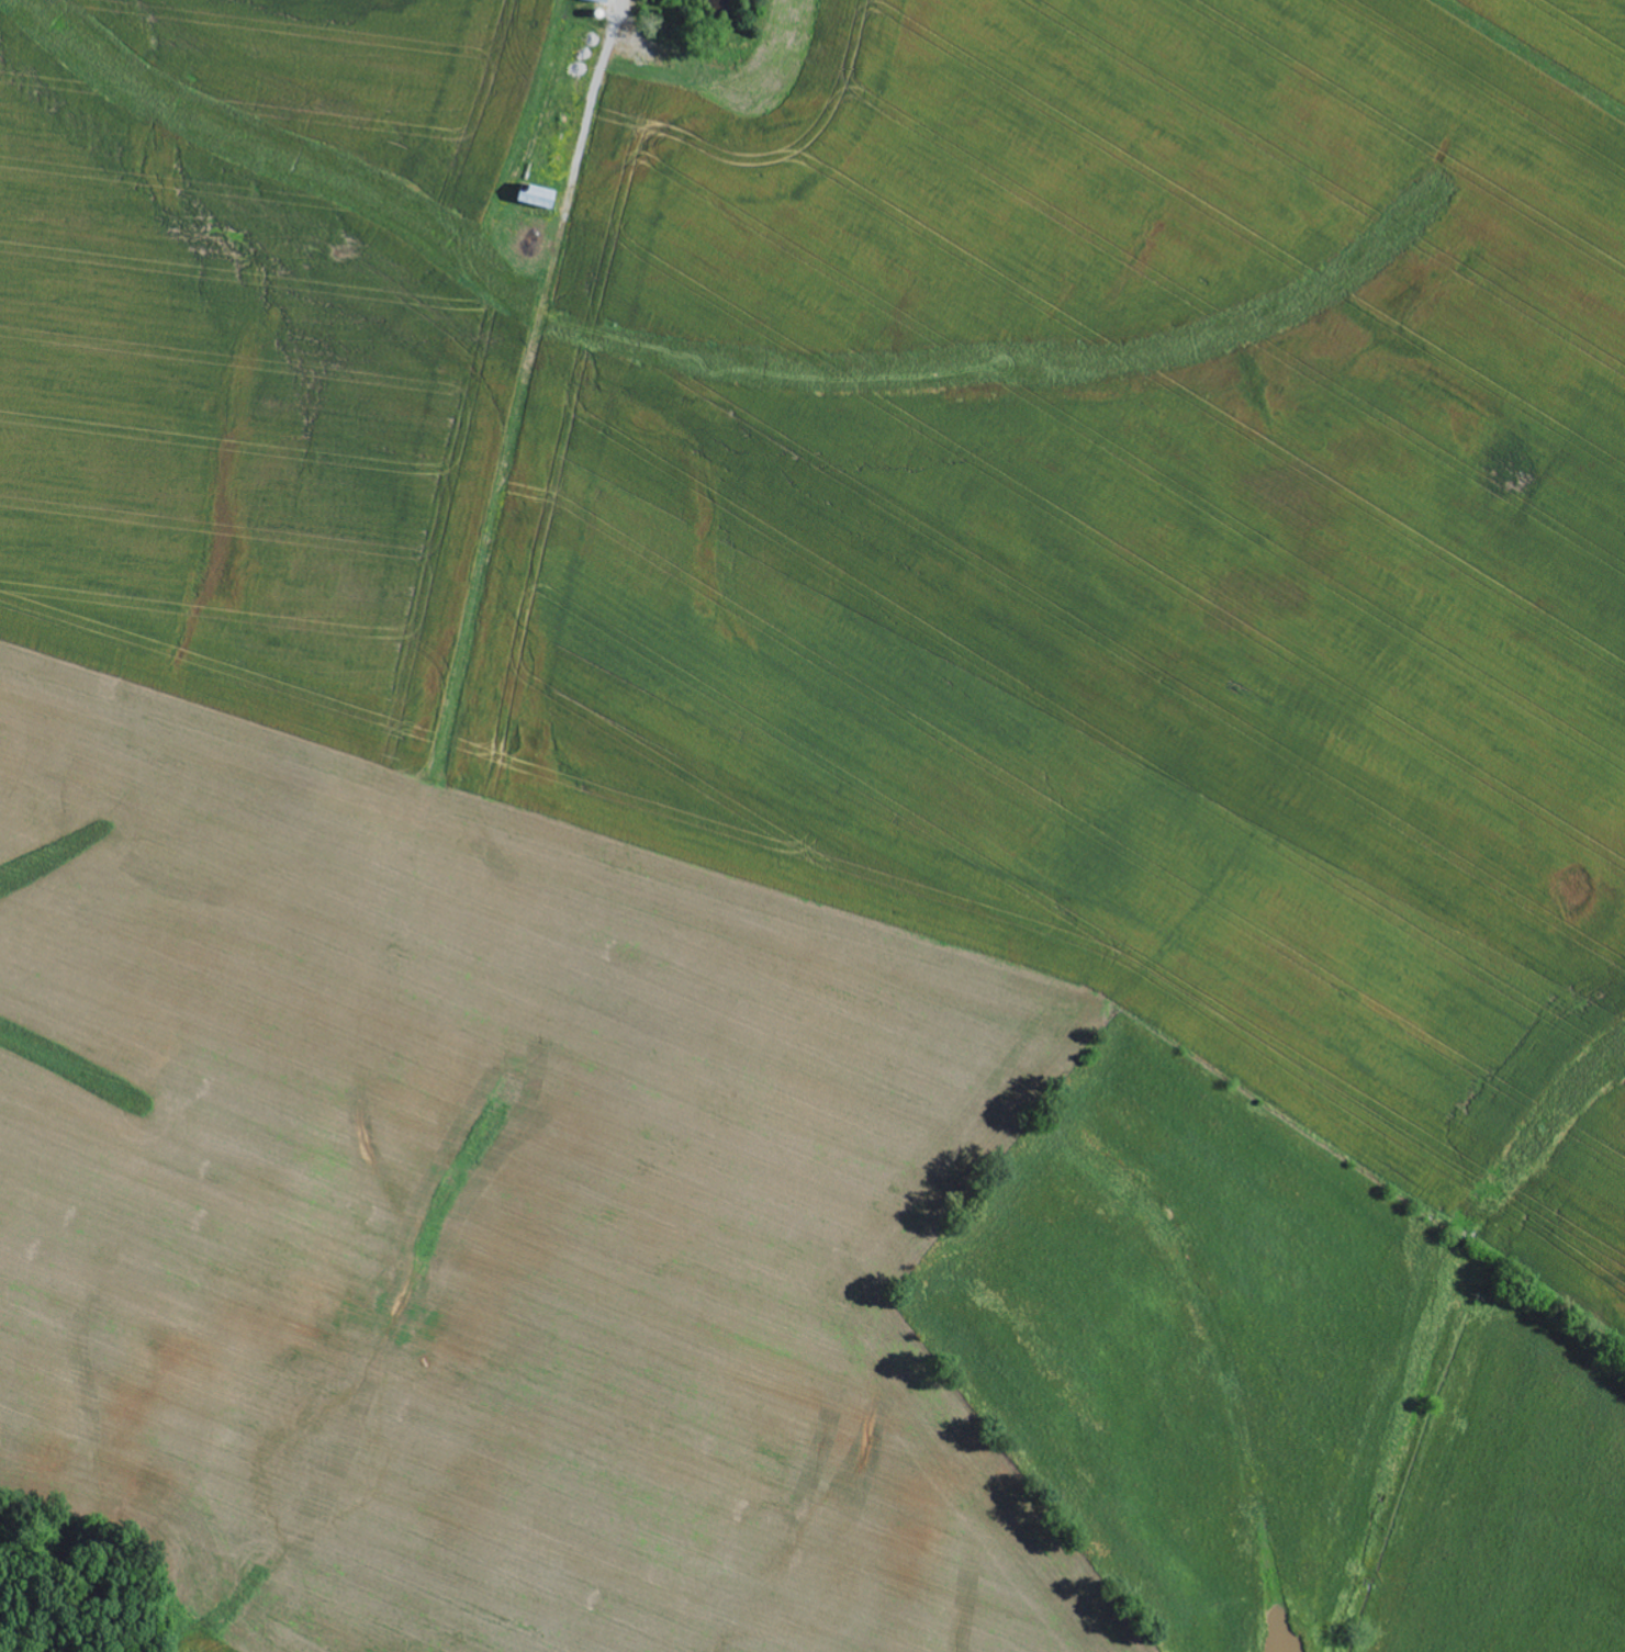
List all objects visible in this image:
building: (597, 1)
building: (533, 195)
road: (457, 577)

